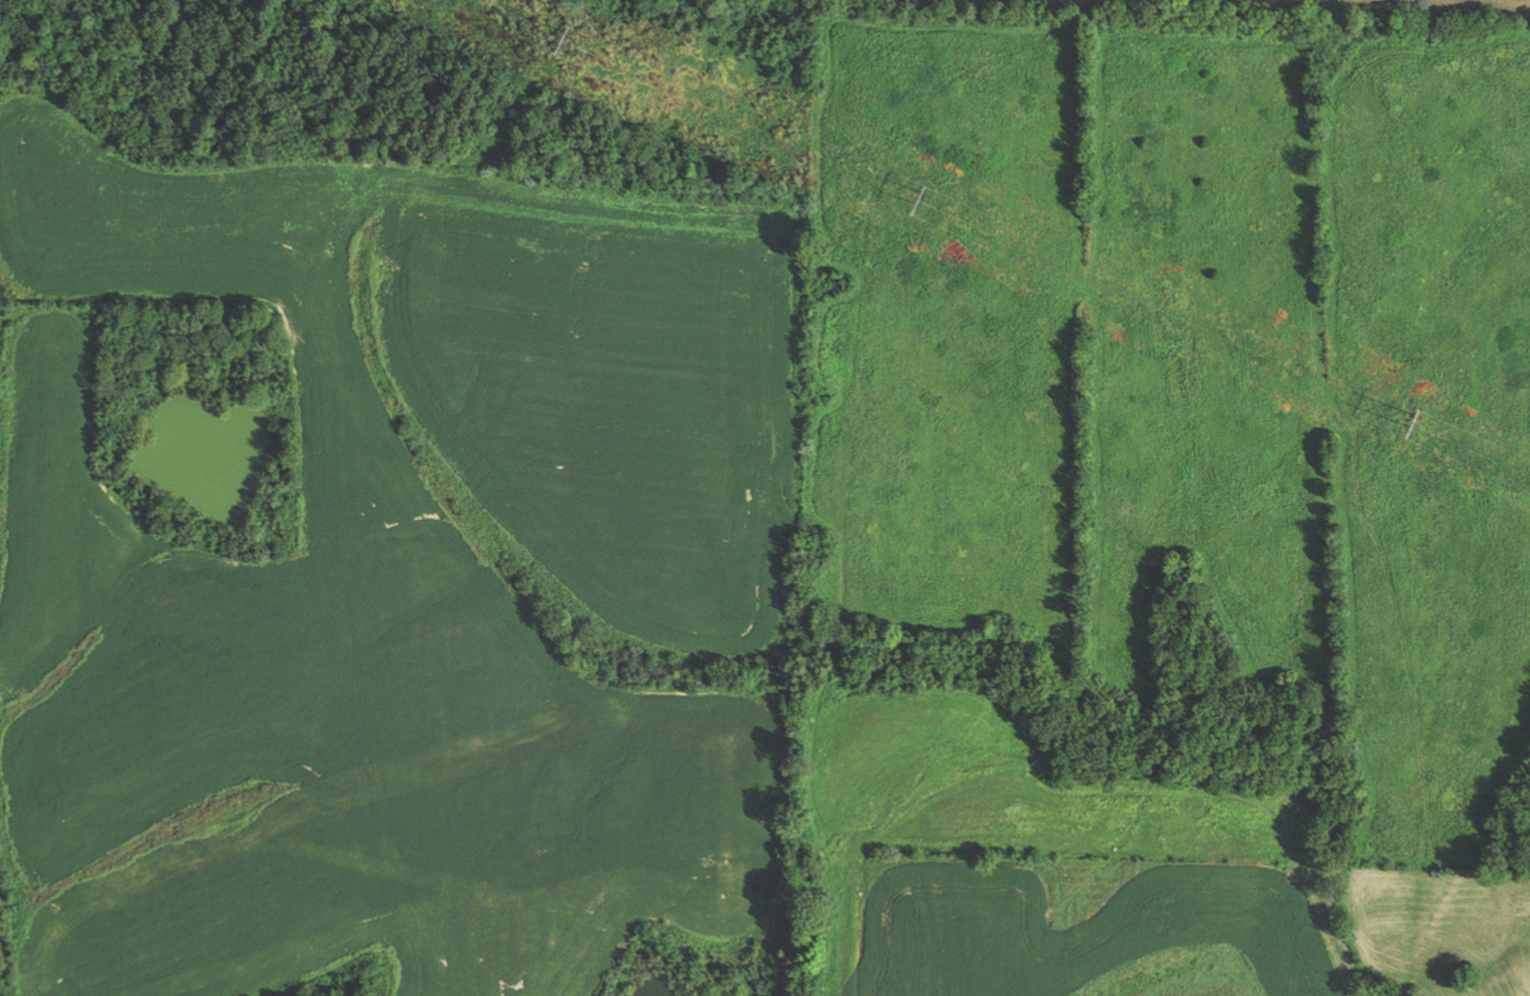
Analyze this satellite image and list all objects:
power tower: (560, 39)
power tower: (918, 197)
power tower: (1418, 421)

